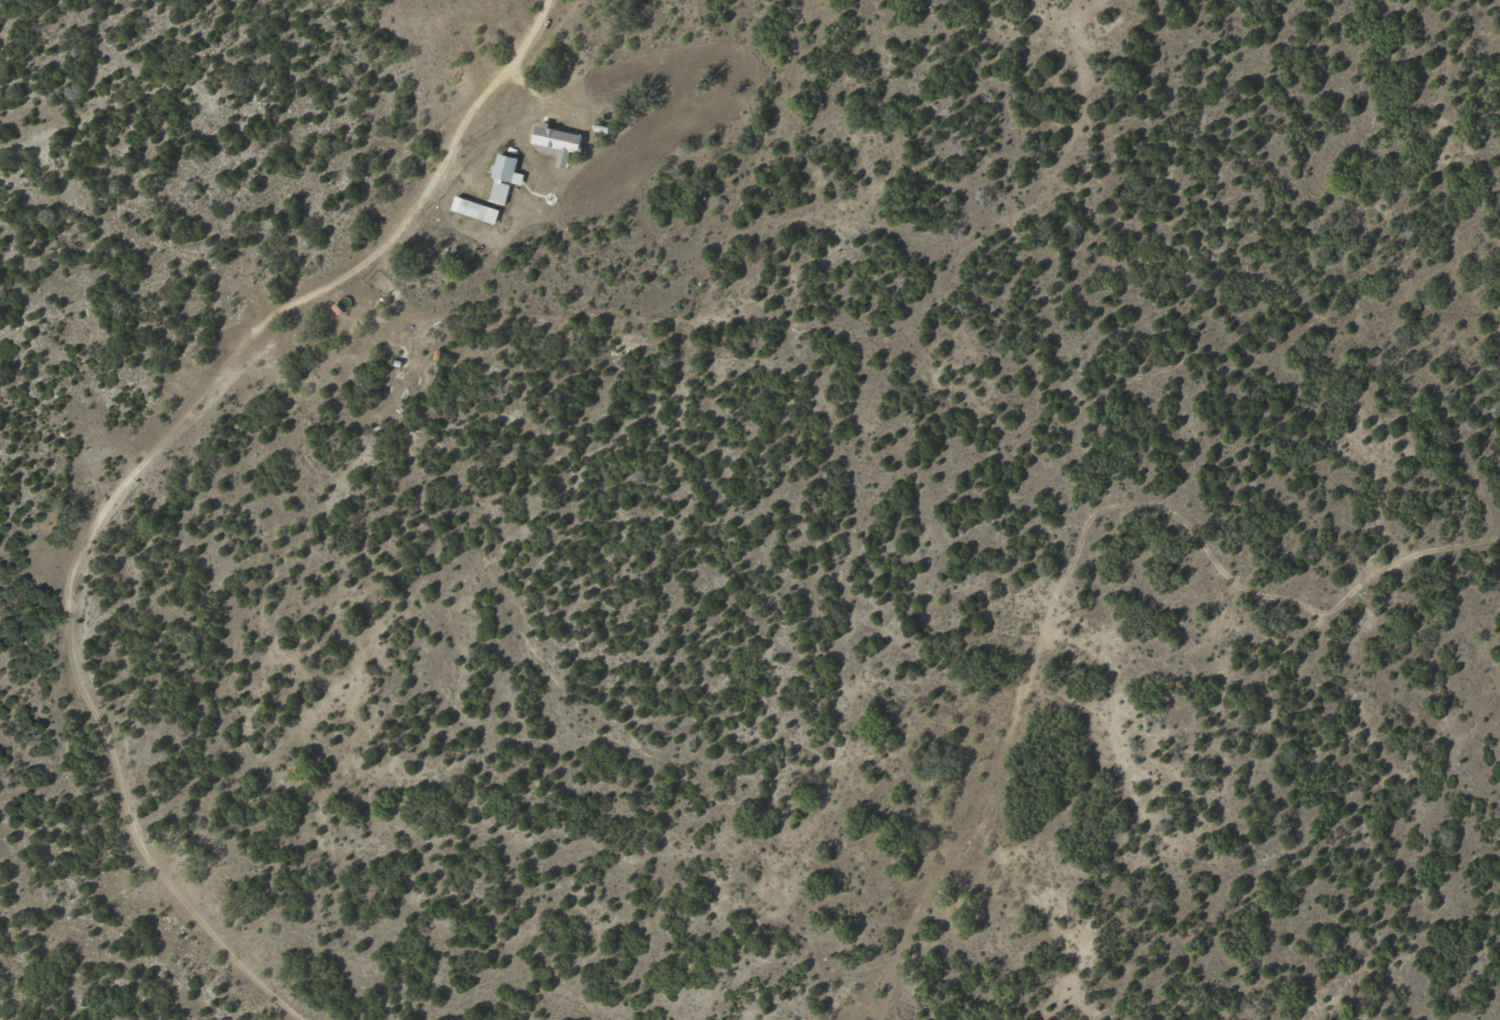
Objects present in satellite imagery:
building: (560, 139)
building: (506, 178)
building: (481, 210)

